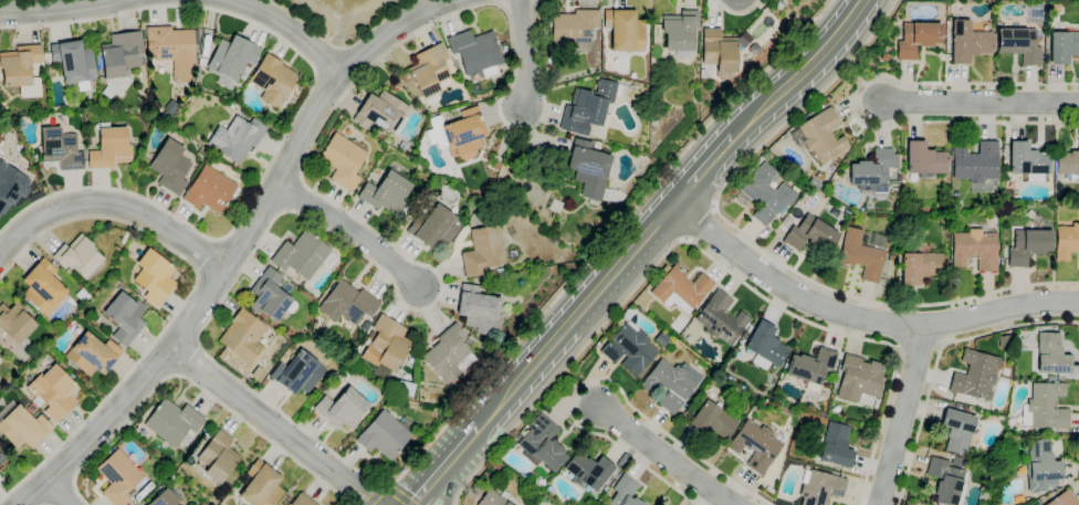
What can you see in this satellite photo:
building: (774, 8)
road: (53, 9)
road: (737, 12)
road: (343, 19)
building: (573, 25)
road: (289, 28)
road: (390, 29)
building: (625, 30)
building: (680, 30)
building: (544, 34)
building: (657, 36)
building: (918, 38)
building: (744, 40)
building: (968, 41)
building: (206, 44)
building: (1019, 44)
road: (339, 45)
building: (1064, 45)
building: (172, 49)
building: (503, 49)
building: (720, 50)
building: (475, 53)
road: (523, 53)
building: (883, 56)
building: (230, 59)
building: (118, 61)
building: (202, 62)
building: (74, 63)
building: (248, 64)
building: (22, 70)
building: (429, 70)
road: (802, 72)
building: (702, 73)
road: (853, 73)
building: (242, 75)
building: (197, 80)
building: (273, 80)
road: (853, 102)
road: (980, 102)
road: (805, 104)
building: (590, 106)
building: (818, 107)
building: (169, 109)
building: (383, 113)
road: (293, 117)
building: (654, 122)
building: (845, 123)
building: (460, 133)
building: (820, 135)
building: (235, 137)
building: (783, 137)
road: (534, 138)
building: (60, 148)
building: (111, 148)
building: (145, 152)
building: (765, 156)
building: (207, 159)
building: (343, 160)
building: (924, 160)
building: (1028, 161)
building: (1068, 162)
building: (170, 166)
building: (976, 167)
road: (702, 170)
building: (873, 171)
building: (591, 172)
building: (533, 176)
building: (517, 181)
building: (10, 185)
building: (209, 189)
building: (474, 191)
building: (387, 193)
building: (766, 193)
building: (808, 198)
road: (112, 202)
building: (556, 204)
road: (699, 222)
building: (436, 227)
road: (350, 230)
building: (511, 232)
building: (811, 233)
building: (1067, 241)
road: (10, 245)
building: (1028, 245)
road: (255, 248)
building: (974, 249)
building: (483, 250)
building: (862, 252)
road: (208, 254)
building: (512, 254)
road: (704, 254)
building: (303, 255)
building: (78, 256)
building: (891, 257)
building: (919, 266)
building: (69, 272)
building: (497, 272)
building: (545, 273)
building: (154, 276)
building: (42, 287)
building: (680, 288)
building: (82, 295)
building: (271, 295)
building: (232, 302)
road: (881, 302)
road: (182, 303)
road: (200, 304)
building: (347, 304)
building: (479, 309)
building: (123, 315)
road: (575, 317)
building: (721, 318)
road: (860, 319)
building: (15, 322)
building: (70, 322)
building: (365, 325)
building: (745, 335)
building: (243, 336)
building: (660, 339)
road: (919, 341)
road: (941, 341)
building: (765, 344)
building: (386, 346)
road: (898, 346)
building: (629, 349)
building: (448, 353)
building: (93, 354)
building: (1050, 355)
road: (937, 356)
road: (188, 359)
building: (810, 368)
building: (1005, 371)
building: (297, 372)
building: (975, 376)
road: (604, 380)
building: (859, 380)
road: (195, 383)
road: (569, 383)
building: (668, 385)
building: (53, 392)
building: (684, 406)
building: (1045, 407)
building: (342, 409)
building: (832, 411)
building: (687, 412)
road: (902, 415)
building: (711, 421)
building: (172, 422)
building: (22, 425)
road: (273, 425)
building: (957, 430)
building: (206, 434)
building: (385, 434)
building: (1031, 434)
building: (542, 443)
building: (755, 445)
building: (835, 445)
road: (666, 456)
building: (1, 459)
building: (217, 459)
building: (622, 460)
building: (1041, 466)
road: (443, 467)
building: (588, 471)
building: (118, 476)
road: (449, 478)
building: (946, 478)
building: (510, 481)
building: (261, 485)
building: (605, 487)
building: (819, 487)
building: (768, 490)
road: (56, 492)
building: (624, 492)
road: (376, 494)
building: (165, 497)
building: (1064, 498)
building: (303, 499)
building: (491, 499)
building: (1037, 501)
building: (132, 503)
building: (1025, 504)

